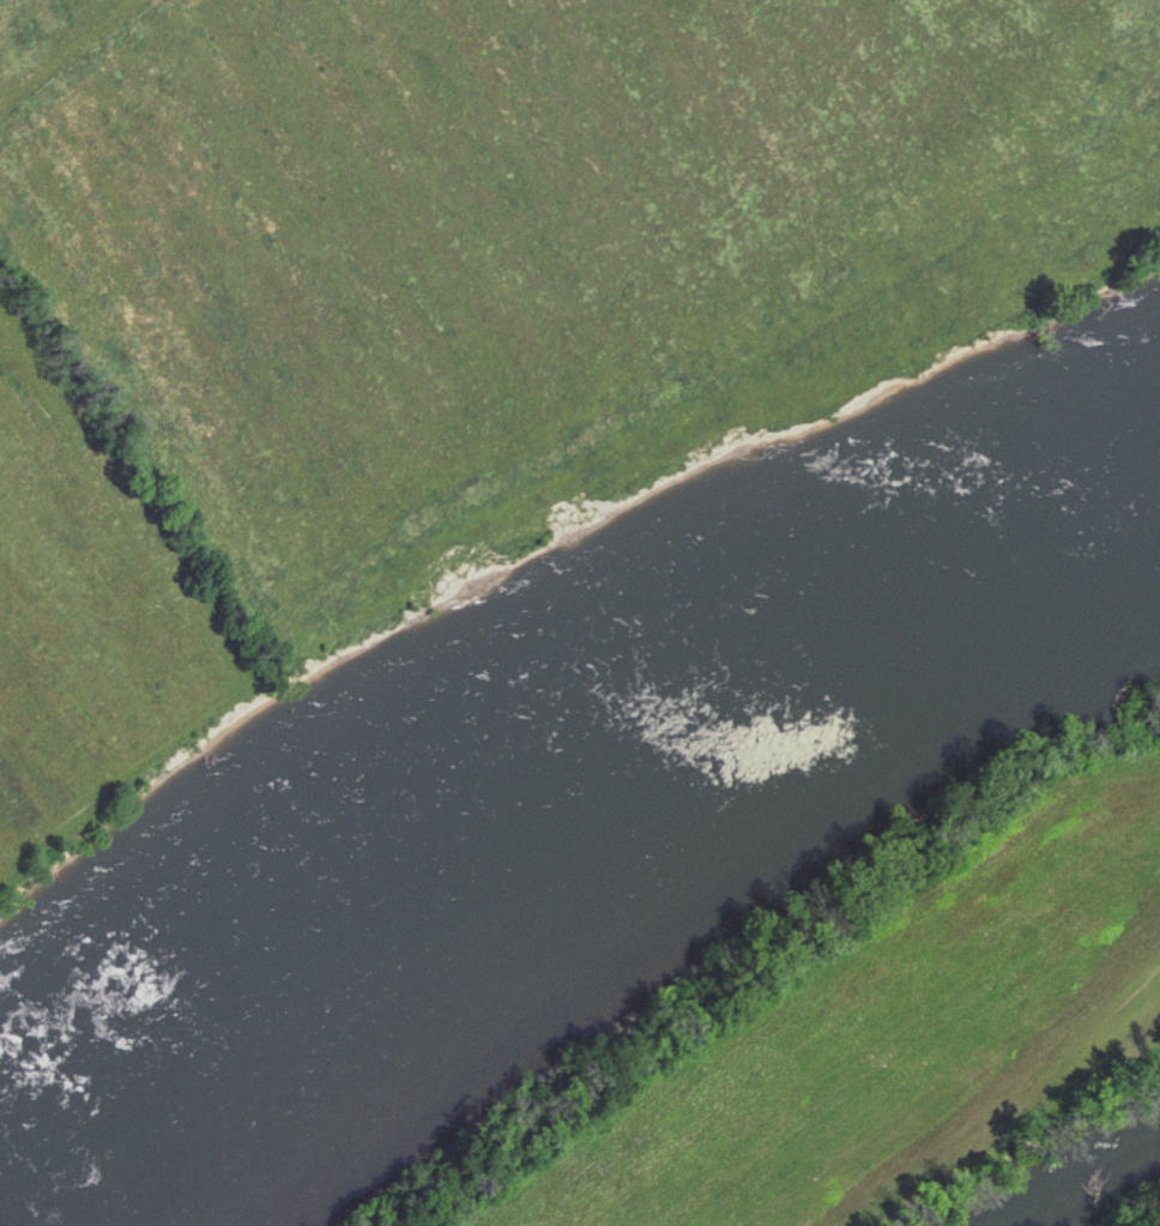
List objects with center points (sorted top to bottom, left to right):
river: (564, 799)

